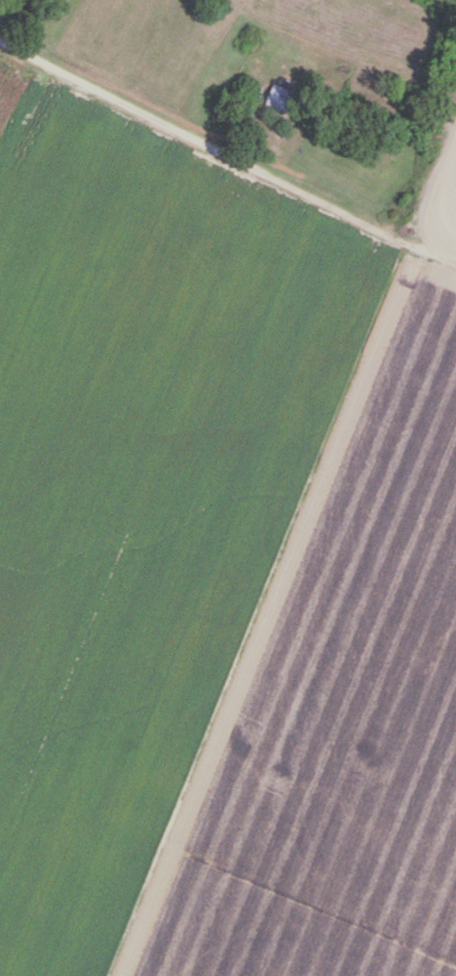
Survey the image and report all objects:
building: (278, 98)
road: (132, 106)
road: (359, 215)

